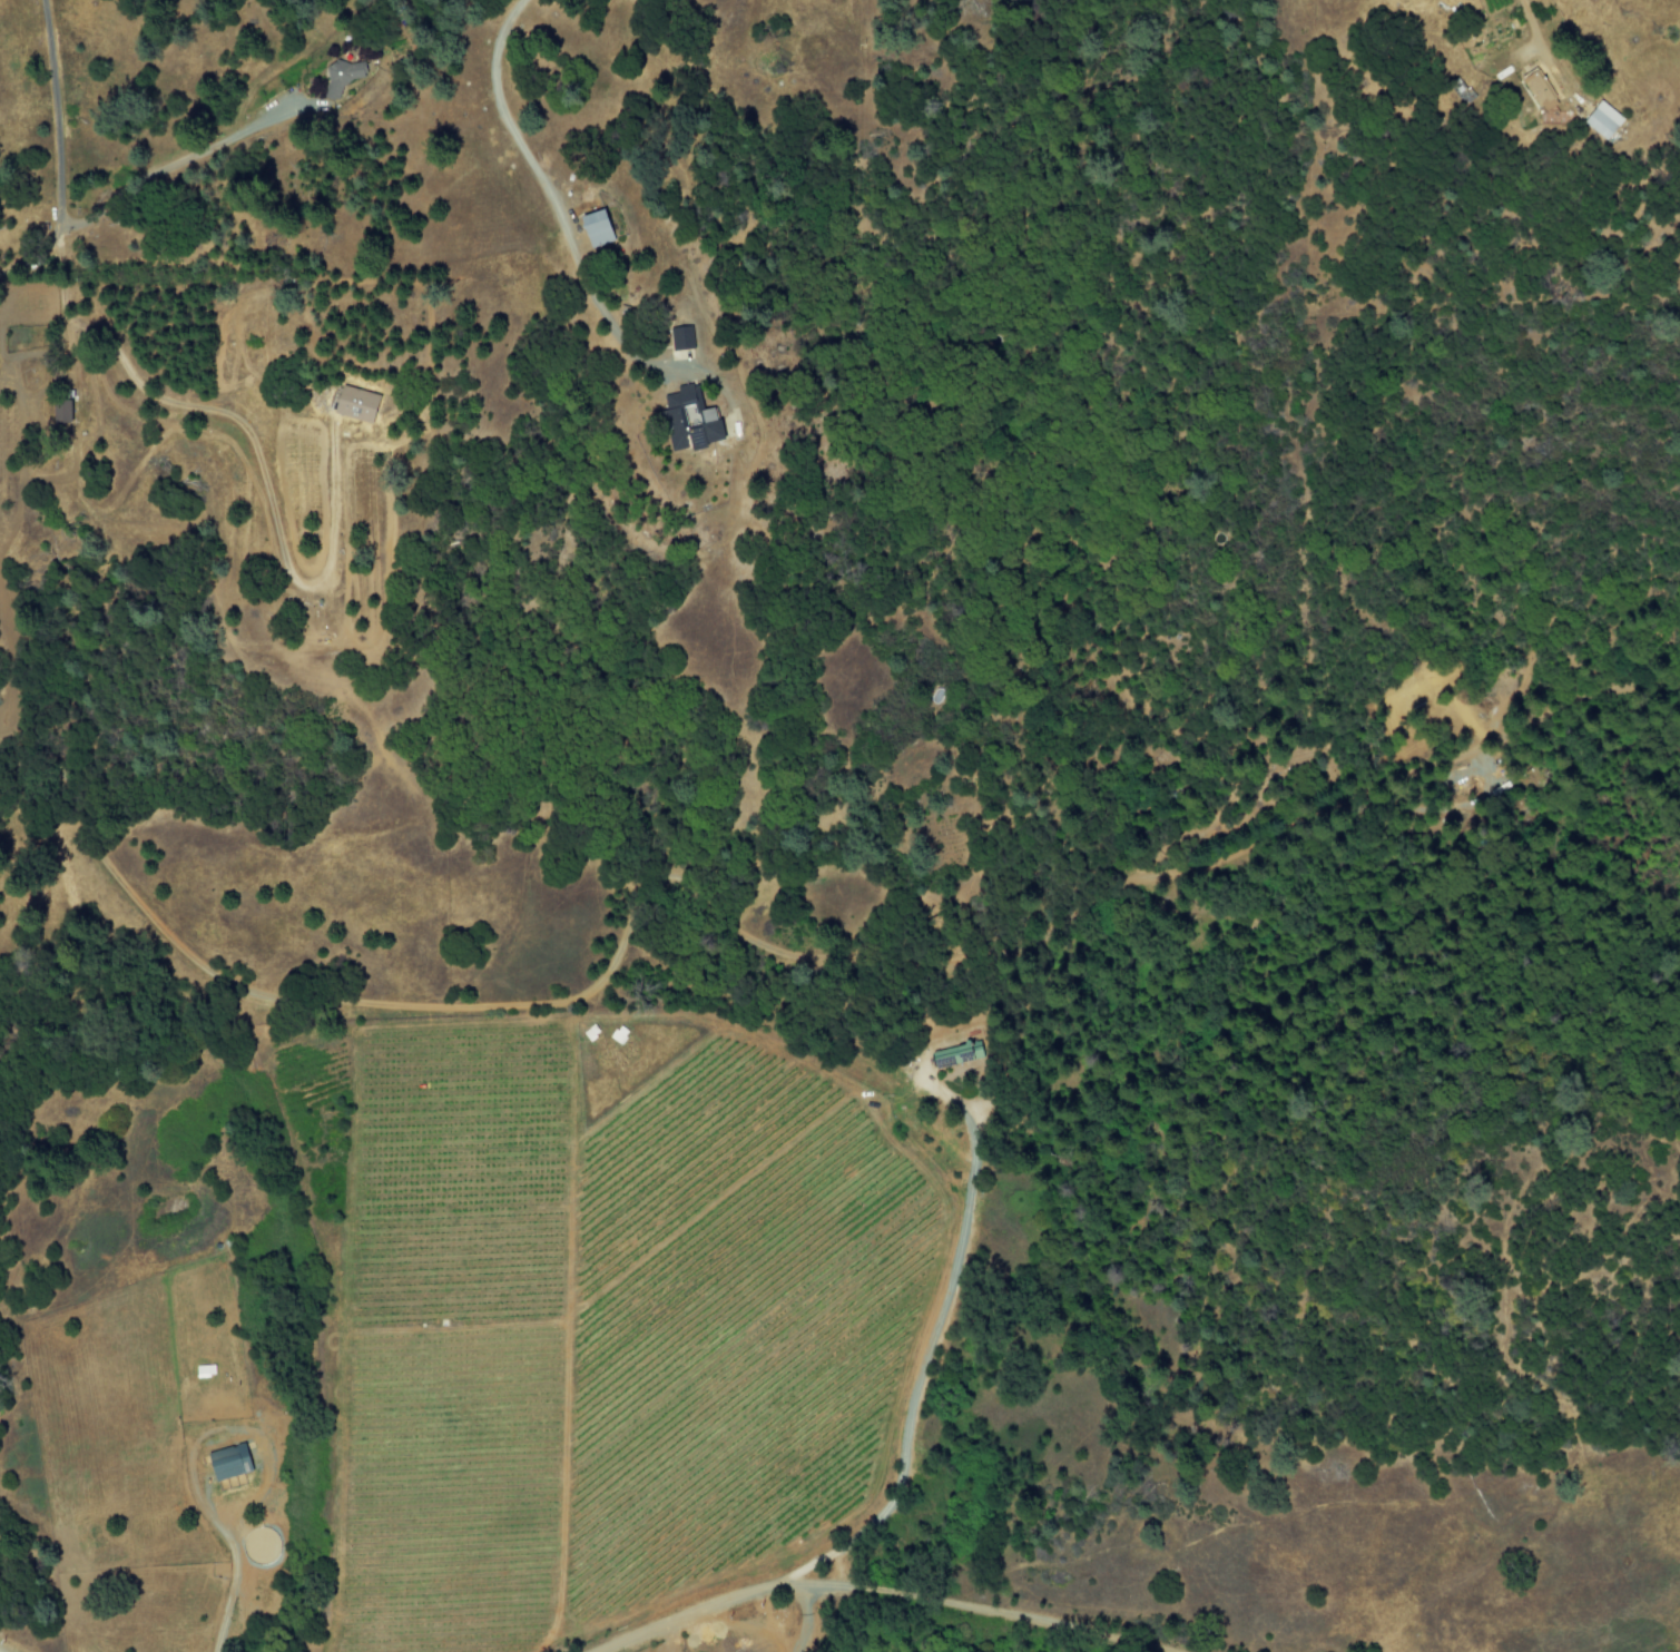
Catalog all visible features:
building: (342, 78)
building: (1541, 92)
building: (1605, 121)
road: (180, 158)
road: (58, 159)
building: (597, 229)
building: (682, 337)
building: (356, 402)
building: (60, 411)
building: (690, 420)
road: (783, 957)
building: (619, 1034)
crop: (612, 1312)
road: (930, 1357)
building: (205, 1370)
building: (229, 1462)
road: (882, 1594)

